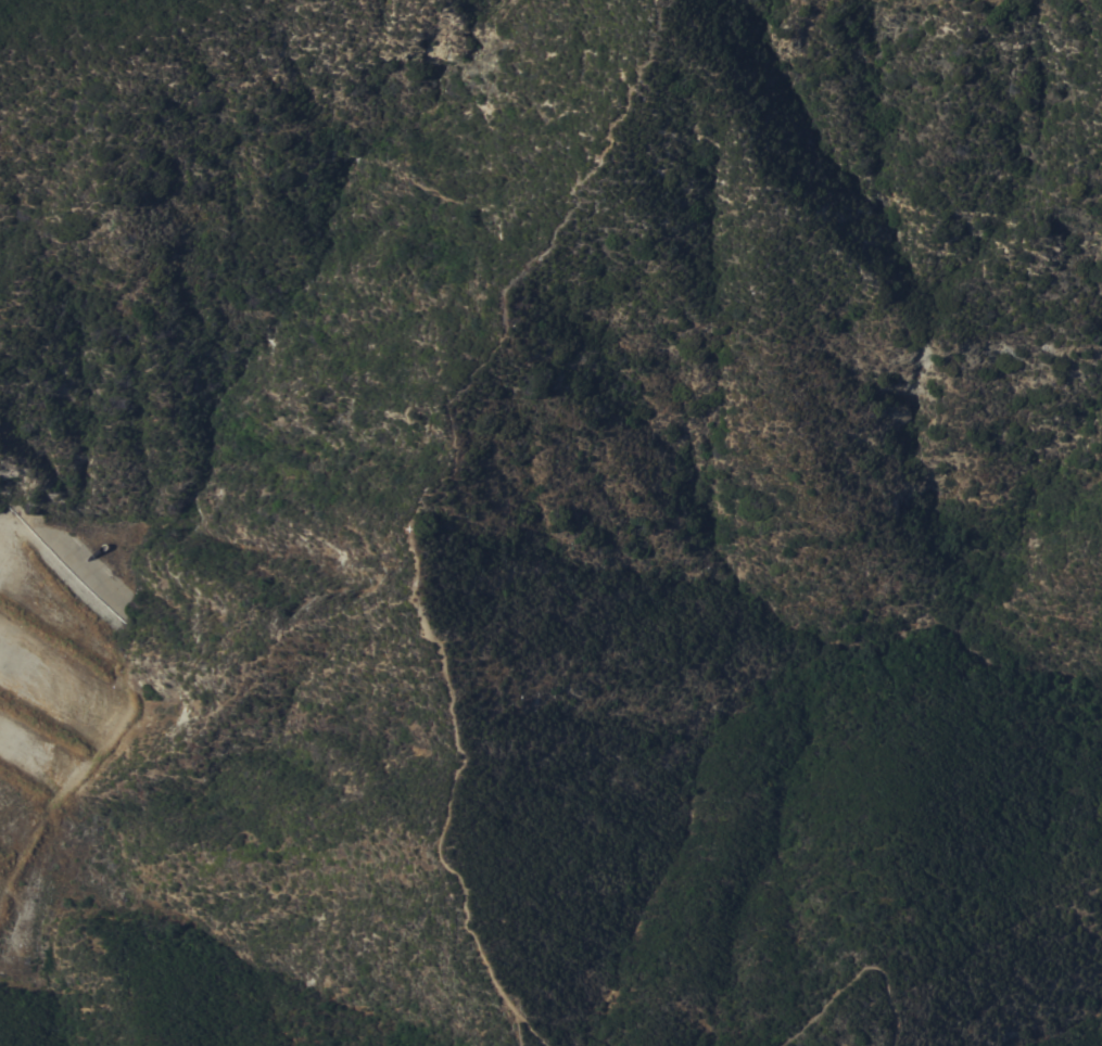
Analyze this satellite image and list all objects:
helipad: (416, 527)
road: (245, 675)
road: (456, 796)
road: (848, 977)
road: (523, 1028)

